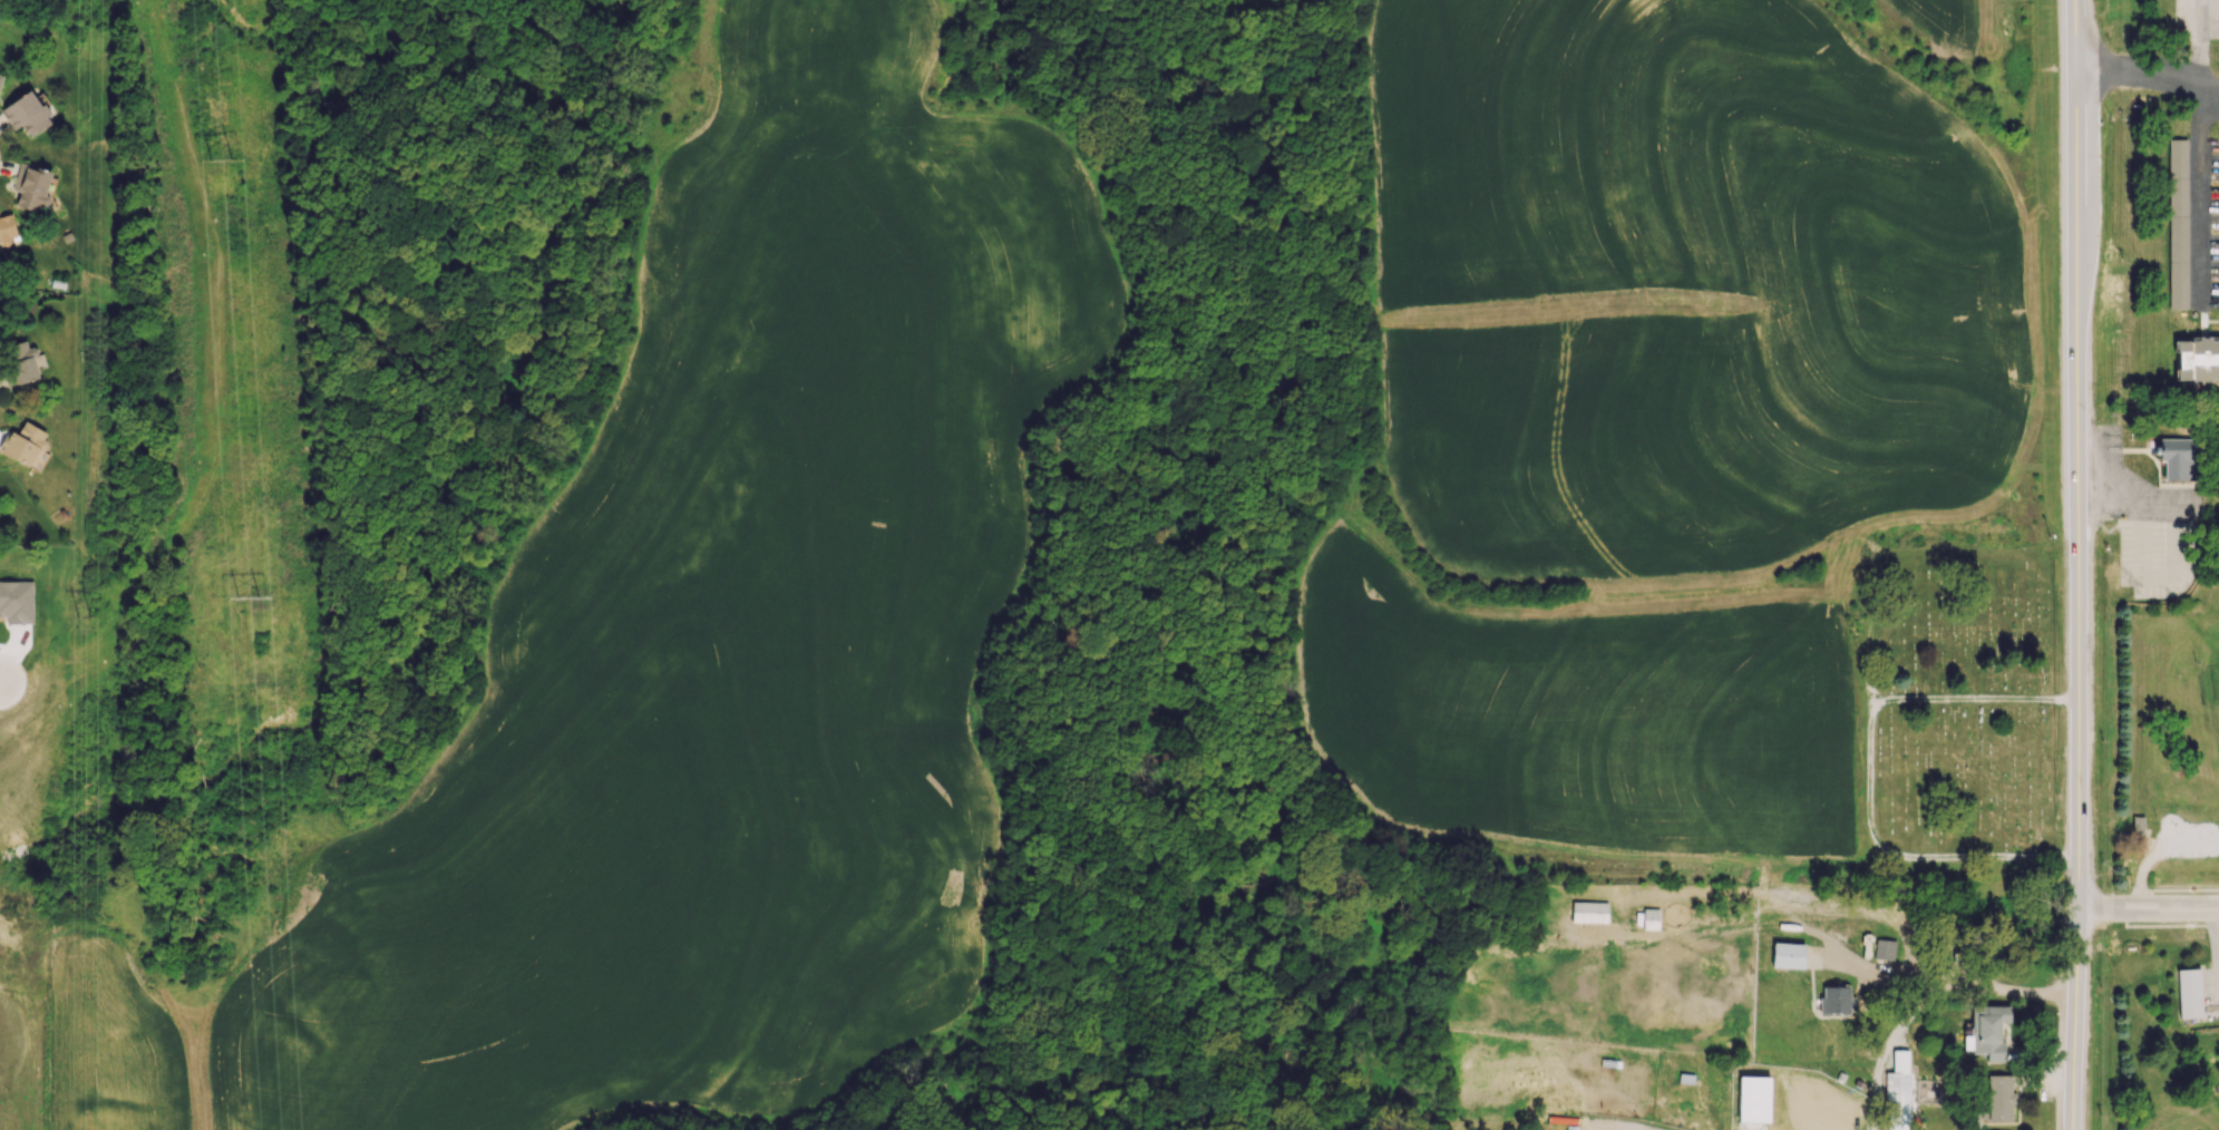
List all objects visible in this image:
parking lot: (2196, 17)
road: (2138, 69)
road: (2208, 85)
road: (2206, 99)
building: (27, 113)
road: (2198, 153)
power tower: (227, 158)
building: (30, 186)
building: (2177, 222)
parking lot: (2212, 223)
building: (6, 230)
building: (2196, 358)
building: (21, 362)
building: (22, 444)
building: (2179, 456)
road: (2125, 494)
parking lot: (2142, 520)
road: (2060, 564)
road: (2084, 564)
road: (2071, 565)
power tower: (254, 597)
power tower: (85, 617)
road: (1867, 655)
road: (1973, 700)
park: (1957, 711)
building: (2140, 827)
road: (1901, 858)
road: (2144, 871)
road: (2179, 889)
building: (1588, 912)
road: (2144, 912)
building: (1649, 918)
road: (2164, 926)
road: (2217, 943)
building: (1884, 948)
building: (1787, 955)
road: (1991, 990)
building: (2189, 993)
building: (1834, 999)
building: (1987, 1031)
building: (1899, 1090)
building: (1998, 1098)
road: (1634, 1127)

